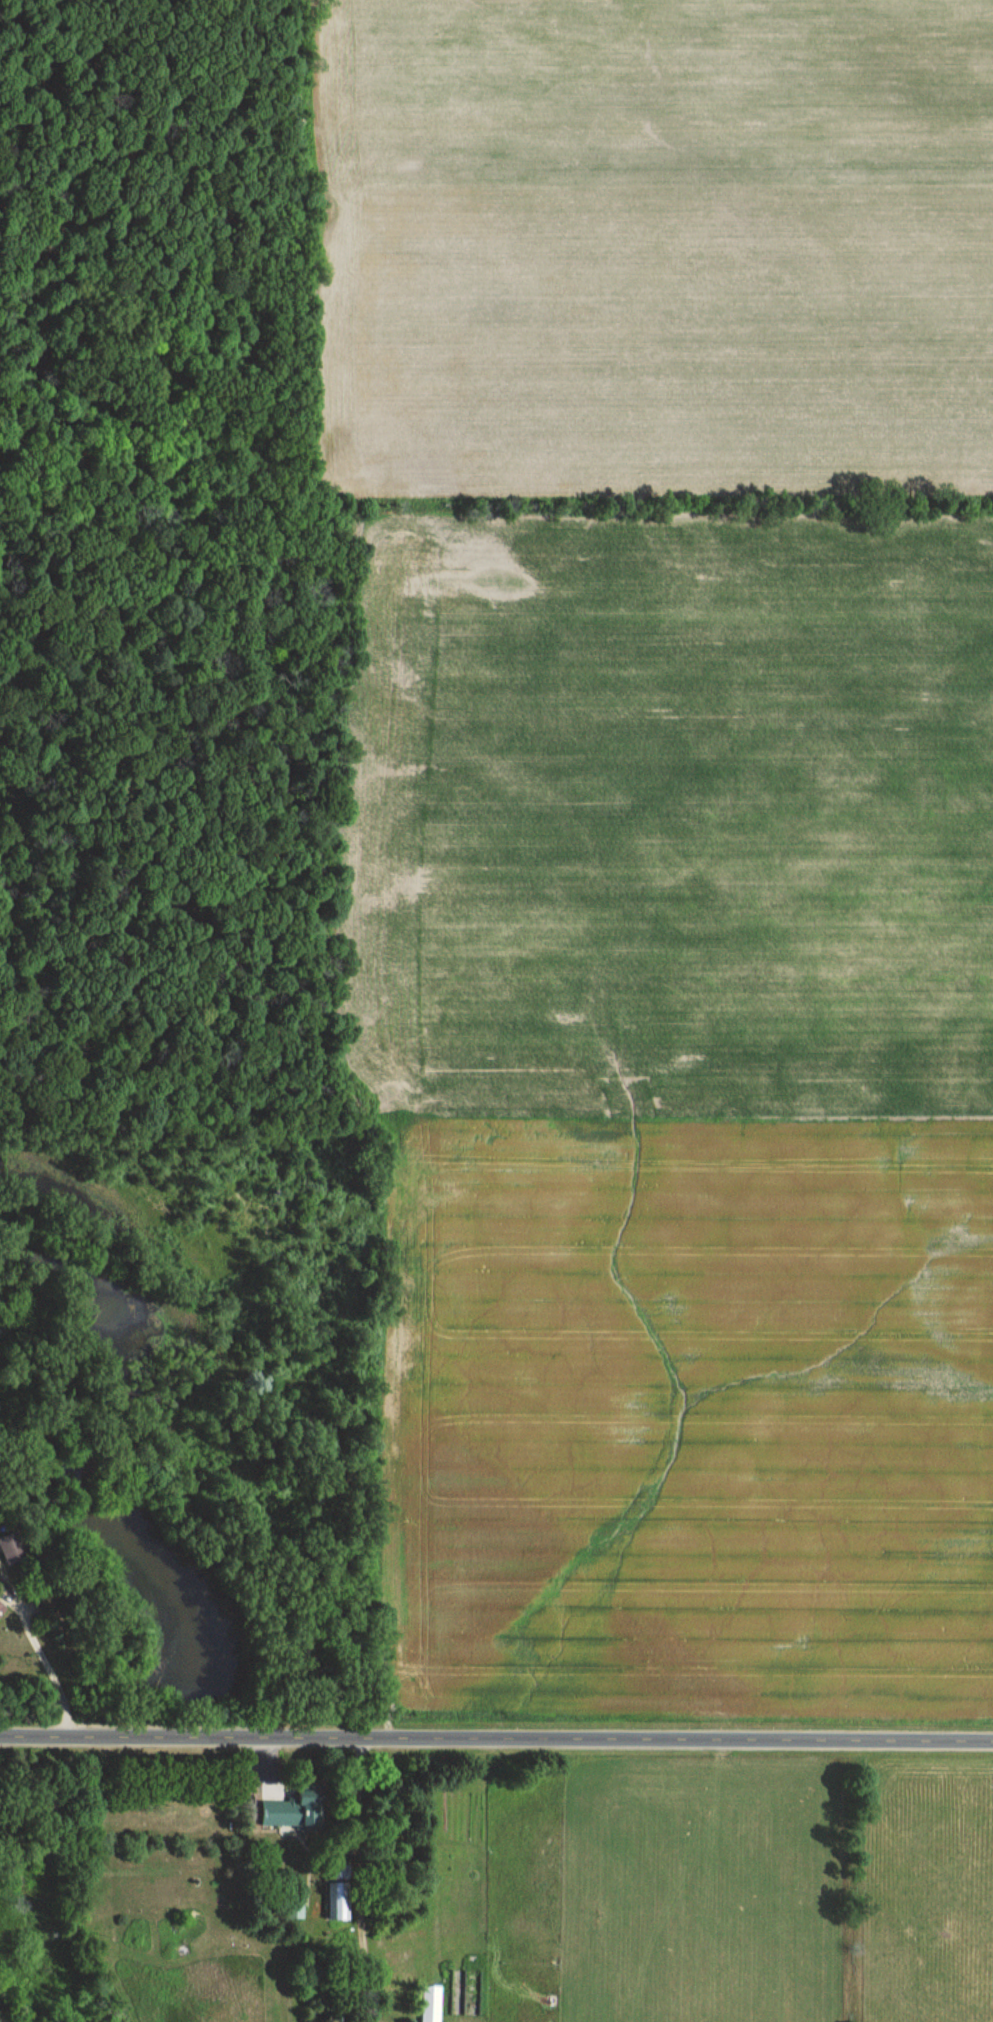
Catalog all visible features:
building: (15, 1548)
building: (3, 1610)
road: (44, 1670)
road: (496, 1735)
building: (298, 1808)
building: (341, 1899)
building: (433, 2003)

